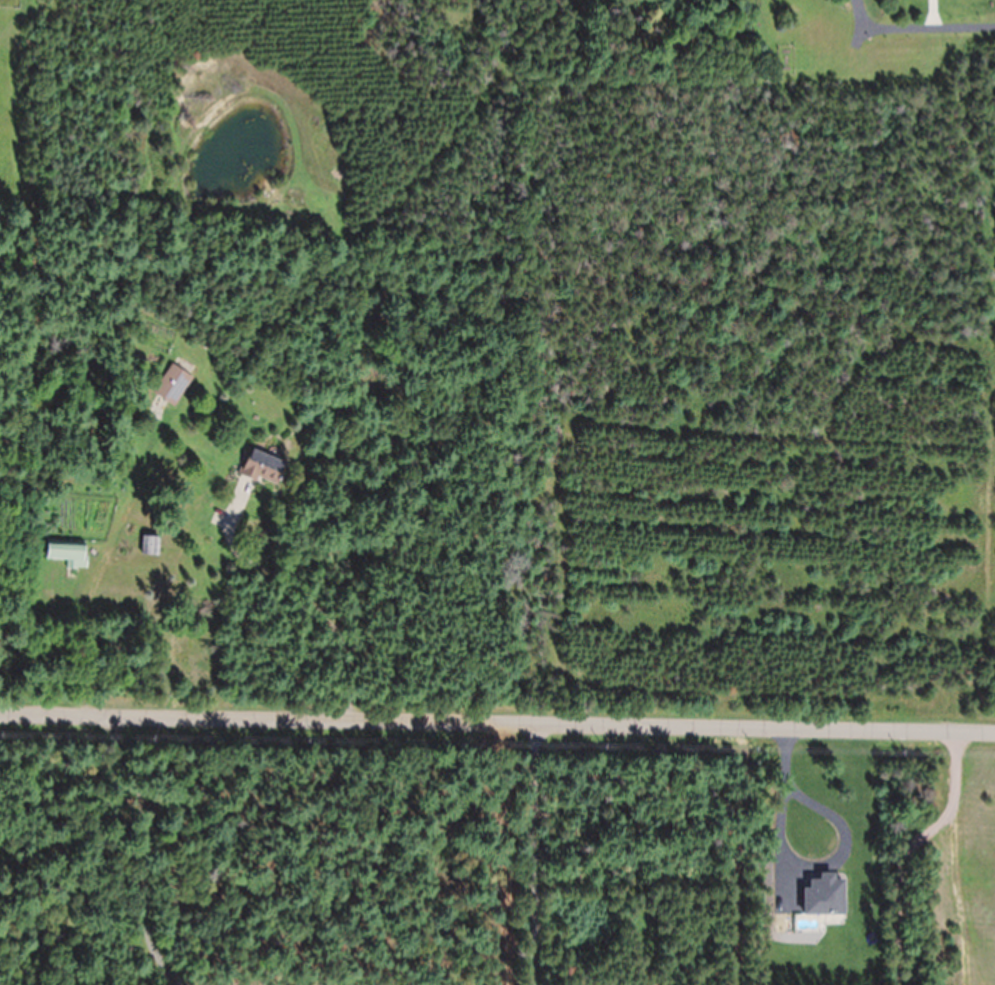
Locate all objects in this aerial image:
road: (915, 24)
building: (172, 385)
building: (262, 468)
building: (149, 546)
building: (67, 554)
road: (497, 724)
road: (535, 854)

